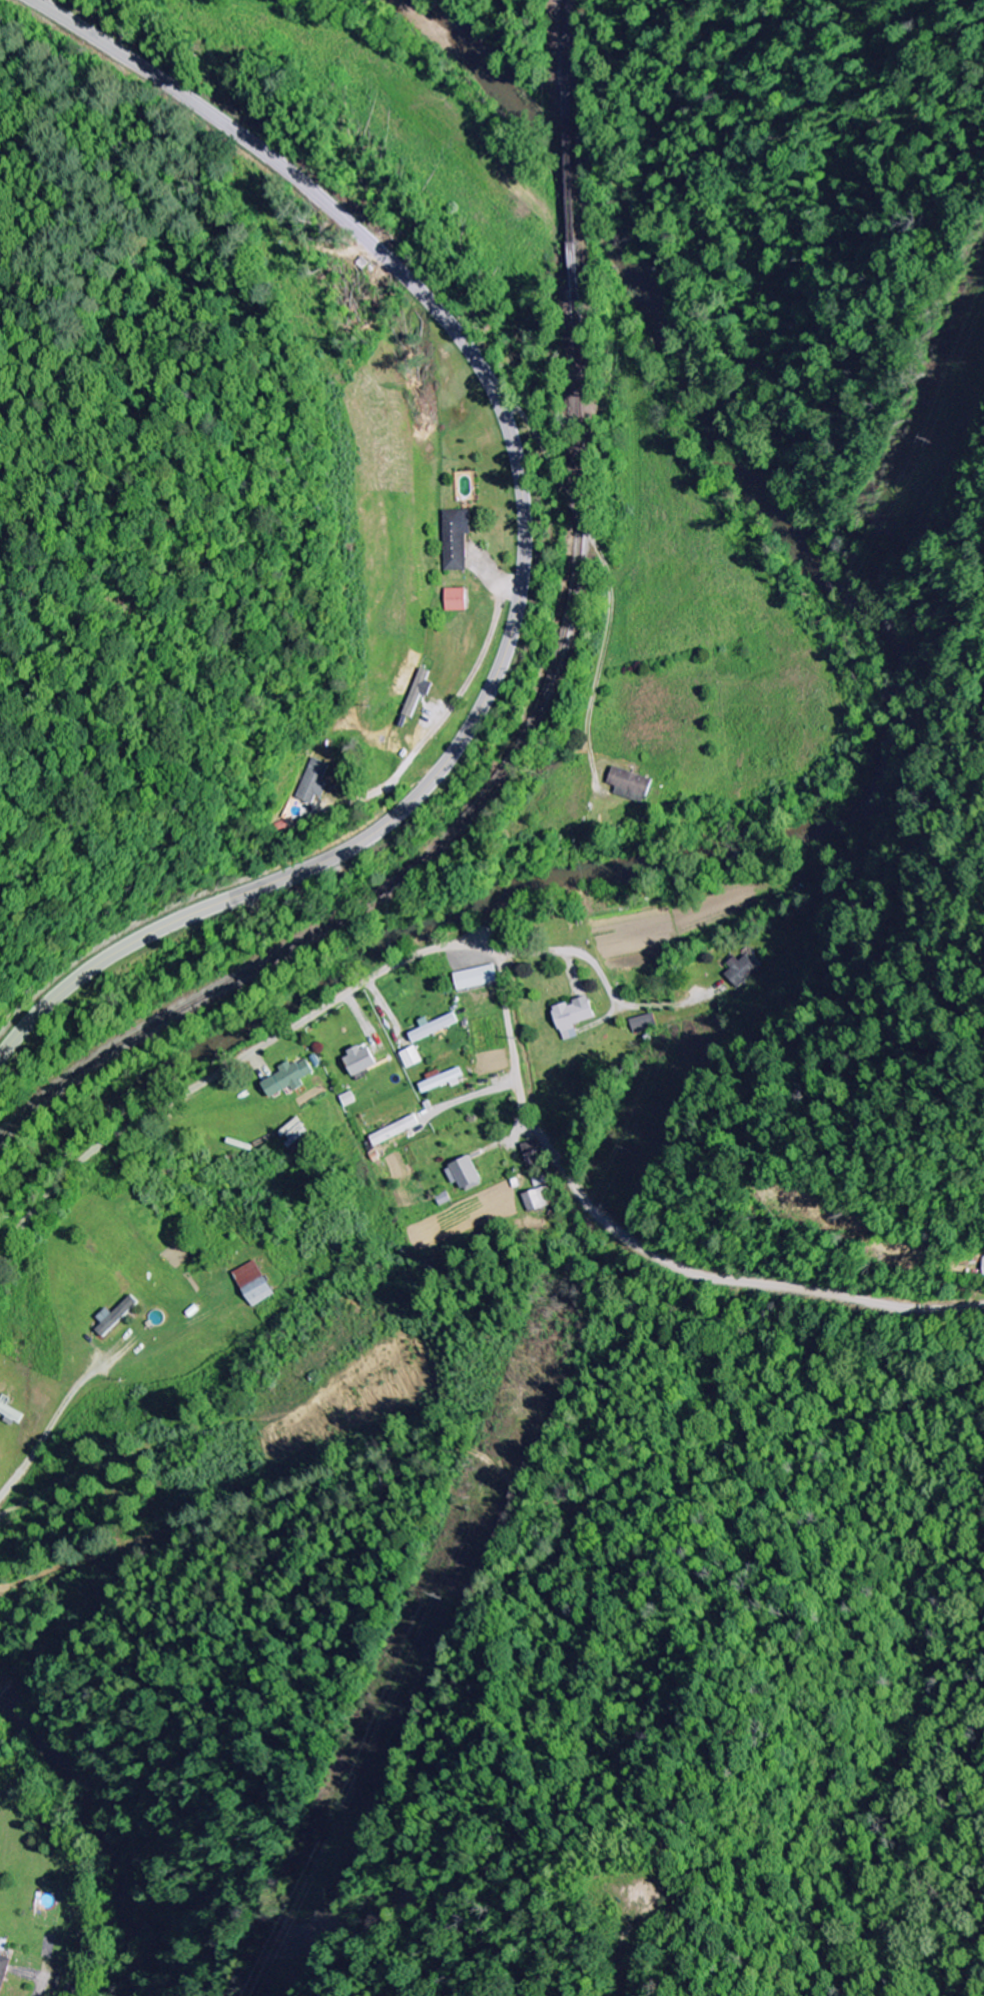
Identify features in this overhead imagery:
building: (456, 540)
road: (520, 547)
building: (456, 601)
building: (420, 693)
railway: (544, 709)
building: (316, 783)
building: (632, 786)
building: (743, 971)
building: (478, 978)
building: (575, 1017)
building: (643, 1024)
building: (435, 1027)
road: (262, 1049)
building: (413, 1058)
building: (363, 1061)
building: (290, 1078)
building: (443, 1080)
building: (396, 1131)
building: (296, 1133)
building: (531, 1153)
building: (466, 1174)
building: (537, 1201)
building: (983, 1258)
building: (256, 1284)
building: (116, 1317)
building: (11, 1415)
building: (4, 1973)

